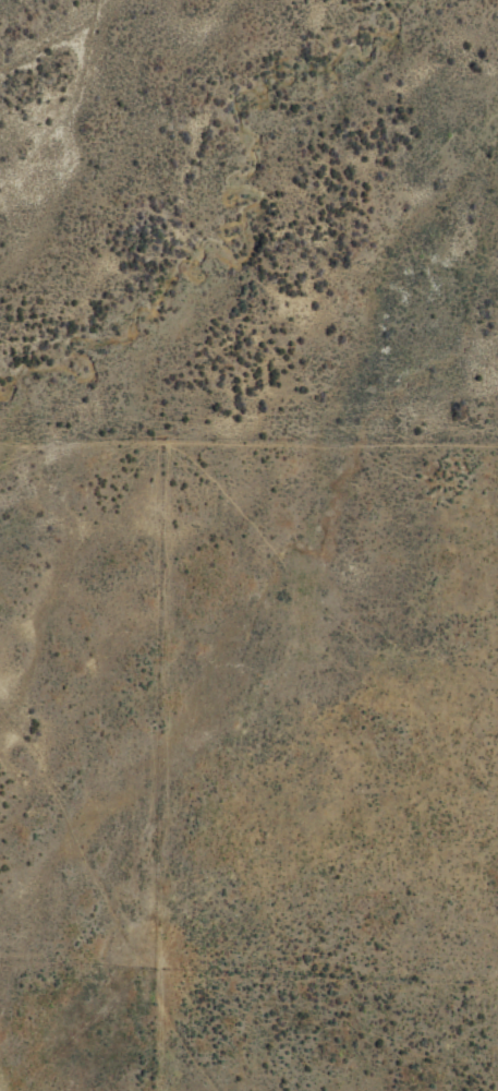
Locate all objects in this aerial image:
crop: (248, 545)

